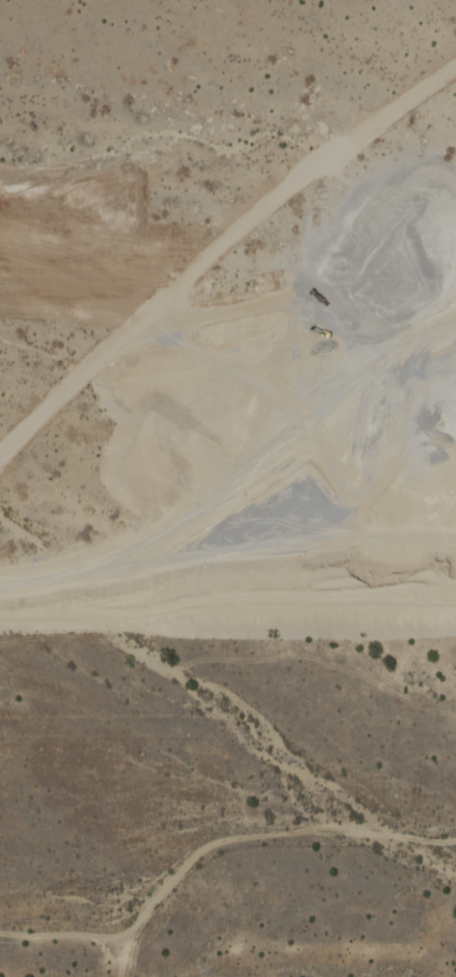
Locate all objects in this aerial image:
road: (443, 328)
quarry: (288, 390)
road: (257, 441)
road: (349, 573)
road: (228, 609)

